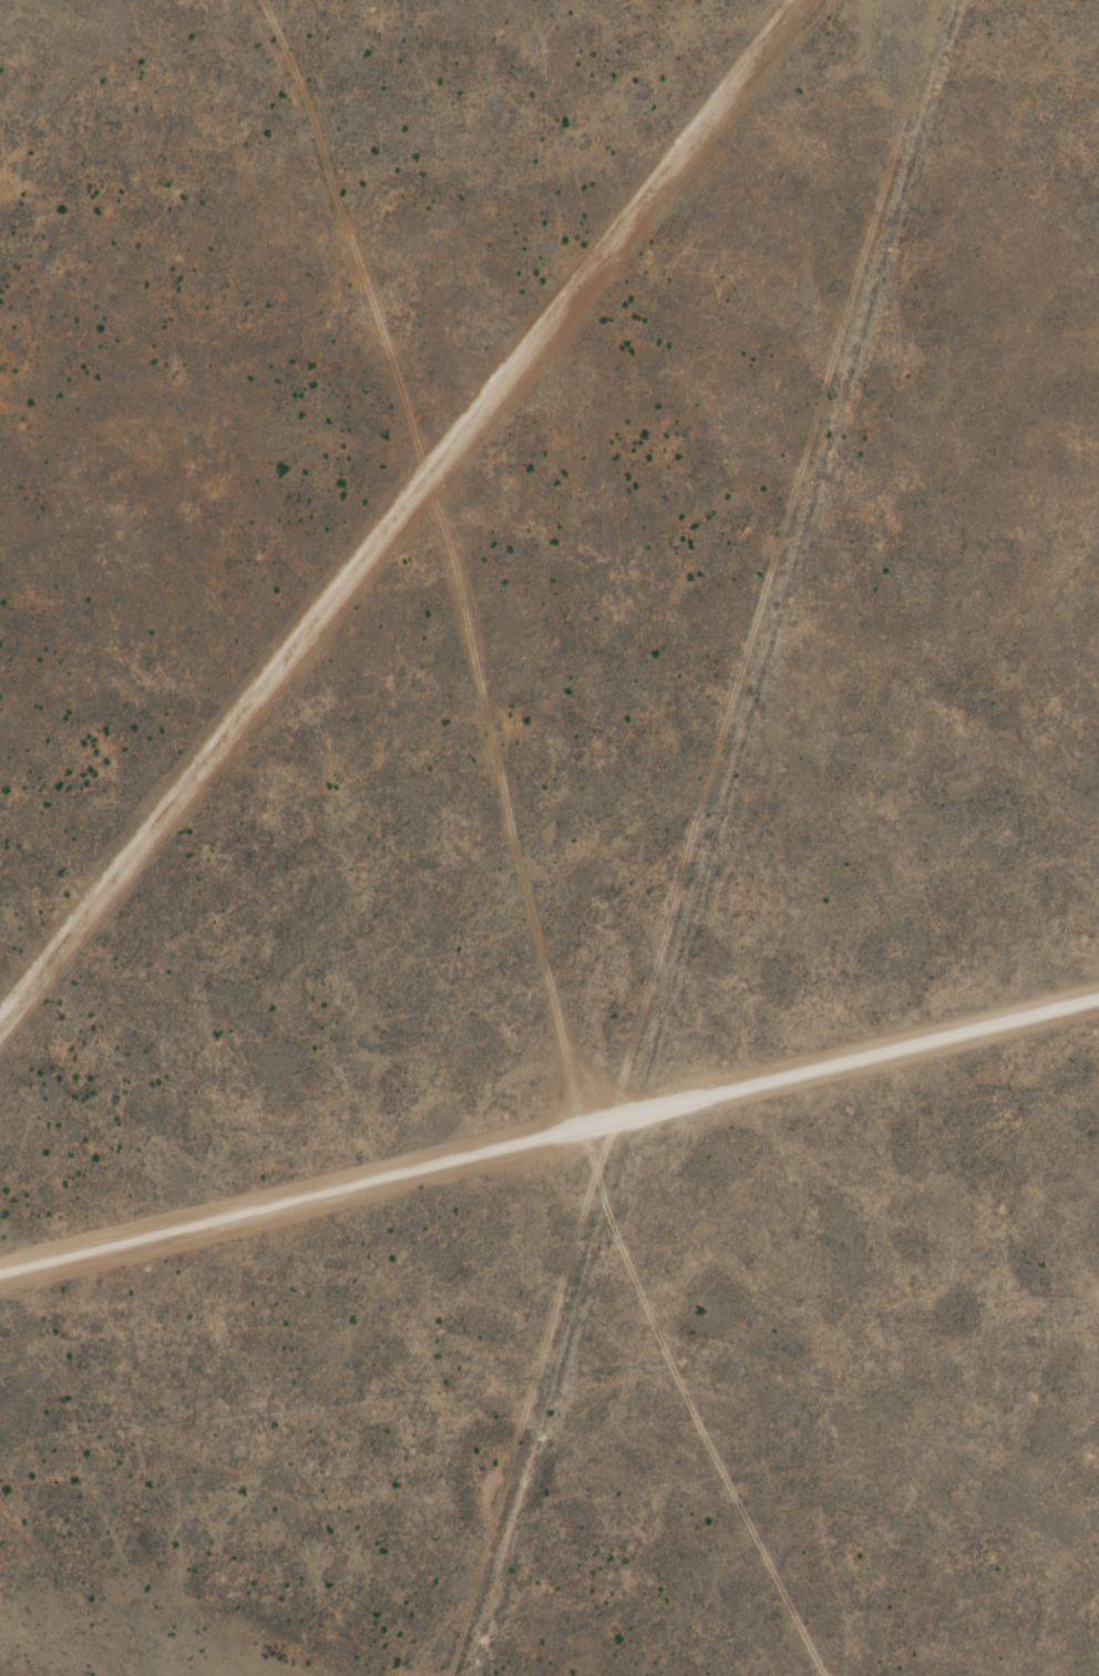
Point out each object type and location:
road: (549, 1134)

